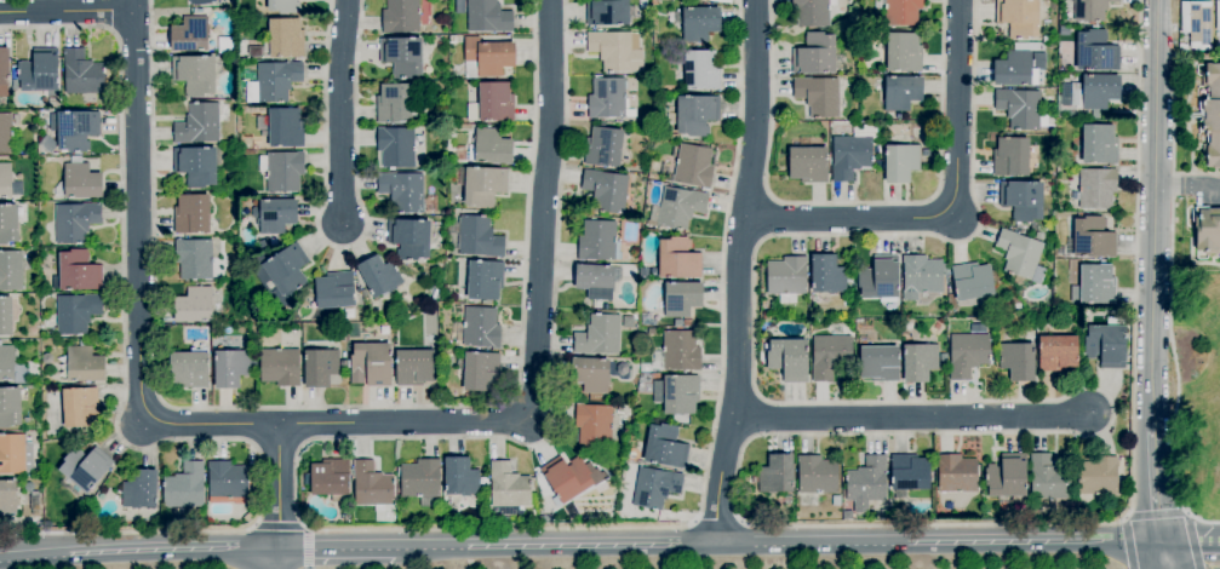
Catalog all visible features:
building: (703, 0)
building: (200, 1)
building: (721, 1)
building: (655, 2)
building: (1069, 5)
building: (283, 6)
building: (1090, 10)
road: (67, 11)
building: (899, 11)
building: (609, 12)
building: (811, 12)
road: (111, 15)
building: (1218, 15)
building: (401, 16)
building: (488, 16)
building: (1018, 17)
building: (698, 23)
building: (1197, 24)
building: (1064, 31)
building: (190, 34)
building: (1218, 35)
building: (285, 38)
building: (452, 39)
building: (1182, 47)
building: (617, 50)
building: (1095, 51)
building: (254, 52)
building: (904, 52)
building: (814, 54)
building: (402, 56)
building: (487, 57)
building: (701, 70)
building: (1015, 70)
building: (39, 71)
building: (4, 73)
building: (81, 73)
building: (194, 74)
building: (847, 81)
building: (273, 82)
building: (901, 92)
building: (1095, 92)
building: (818, 96)
building: (607, 98)
building: (394, 103)
building: (492, 103)
building: (1019, 109)
road: (339, 111)
building: (1210, 114)
building: (694, 115)
building: (197, 123)
building: (262, 127)
building: (285, 127)
building: (75, 130)
building: (6, 133)
building: (674, 136)
building: (1099, 144)
building: (396, 146)
building: (489, 148)
building: (603, 148)
building: (674, 151)
building: (23, 153)
building: (852, 153)
building: (926, 153)
building: (1012, 157)
building: (900, 162)
building: (808, 165)
building: (196, 166)
building: (693, 166)
building: (282, 169)
building: (5, 179)
building: (81, 180)
building: (483, 185)
road: (1187, 186)
building: (1096, 188)
building: (606, 190)
building: (402, 191)
building: (1023, 200)
road: (852, 202)
building: (677, 207)
road: (1153, 213)
building: (191, 214)
building: (275, 214)
road: (956, 214)
building: (75, 222)
building: (8, 223)
building: (1207, 229)
building: (479, 236)
building: (1039, 236)
building: (409, 238)
building: (1093, 238)
building: (598, 241)
building: (263, 245)
road: (340, 248)
building: (1019, 253)
building: (194, 259)
building: (678, 259)
building: (11, 270)
building: (79, 271)
building: (643, 272)
building: (280, 274)
road: (737, 274)
building: (827, 275)
building: (379, 276)
building: (921, 276)
building: (786, 278)
building: (880, 278)
road: (138, 280)
building: (485, 280)
building: (596, 280)
building: (972, 281)
building: (1094, 286)
building: (334, 291)
building: (363, 293)
building: (681, 298)
building: (194, 305)
building: (76, 312)
building: (5, 316)
building: (767, 316)
road: (1170, 320)
building: (677, 322)
building: (687, 323)
building: (481, 328)
building: (652, 332)
building: (600, 335)
building: (1018, 337)
road: (535, 339)
building: (1106, 343)
building: (680, 351)
building: (967, 354)
building: (1056, 354)
building: (829, 356)
building: (943, 357)
building: (787, 358)
building: (1018, 361)
building: (918, 362)
building: (6, 363)
building: (84, 363)
building: (880, 363)
building: (371, 364)
building: (343, 366)
building: (280, 367)
building: (320, 367)
building: (414, 367)
building: (229, 368)
building: (188, 369)
building: (480, 370)
building: (591, 374)
building: (677, 393)
park: (1197, 395)
building: (10, 407)
building: (80, 407)
road: (336, 407)
road: (116, 416)
road: (909, 416)
building: (594, 425)
road: (934, 433)
building: (665, 447)
building: (12, 454)
building: (85, 467)
building: (909, 473)
building: (956, 473)
building: (775, 475)
building: (817, 475)
building: (1006, 476)
building: (1098, 476)
building: (460, 477)
building: (328, 478)
building: (568, 478)
building: (1048, 478)
building: (227, 479)
building: (420, 481)
building: (866, 483)
road: (1152, 484)
building: (372, 485)
building: (184, 487)
building: (654, 488)
building: (508, 489)
building: (141, 490)
building: (843, 494)
road: (277, 496)
building: (7, 498)
building: (247, 517)
building: (546, 518)
road: (718, 519)
building: (157, 522)
road: (279, 525)
road: (374, 530)
road: (1186, 544)
road: (774, 546)
road: (308, 547)
road: (336, 550)
road: (173, 552)
road: (34, 556)
road: (1157, 556)

